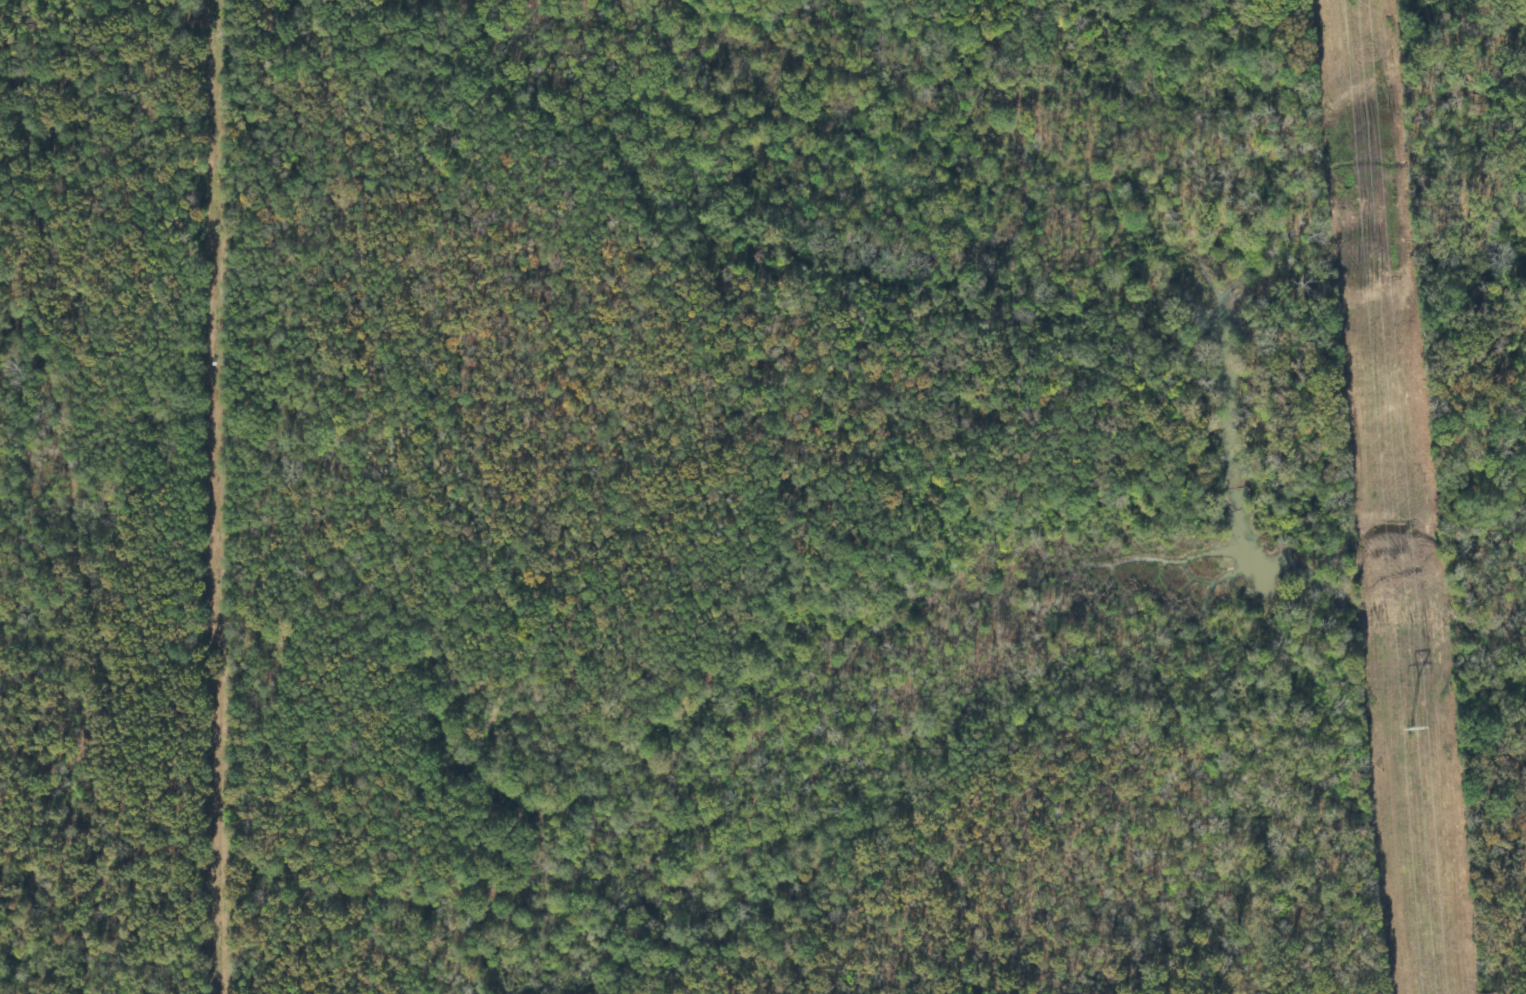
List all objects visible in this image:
power tower: (1412, 726)

